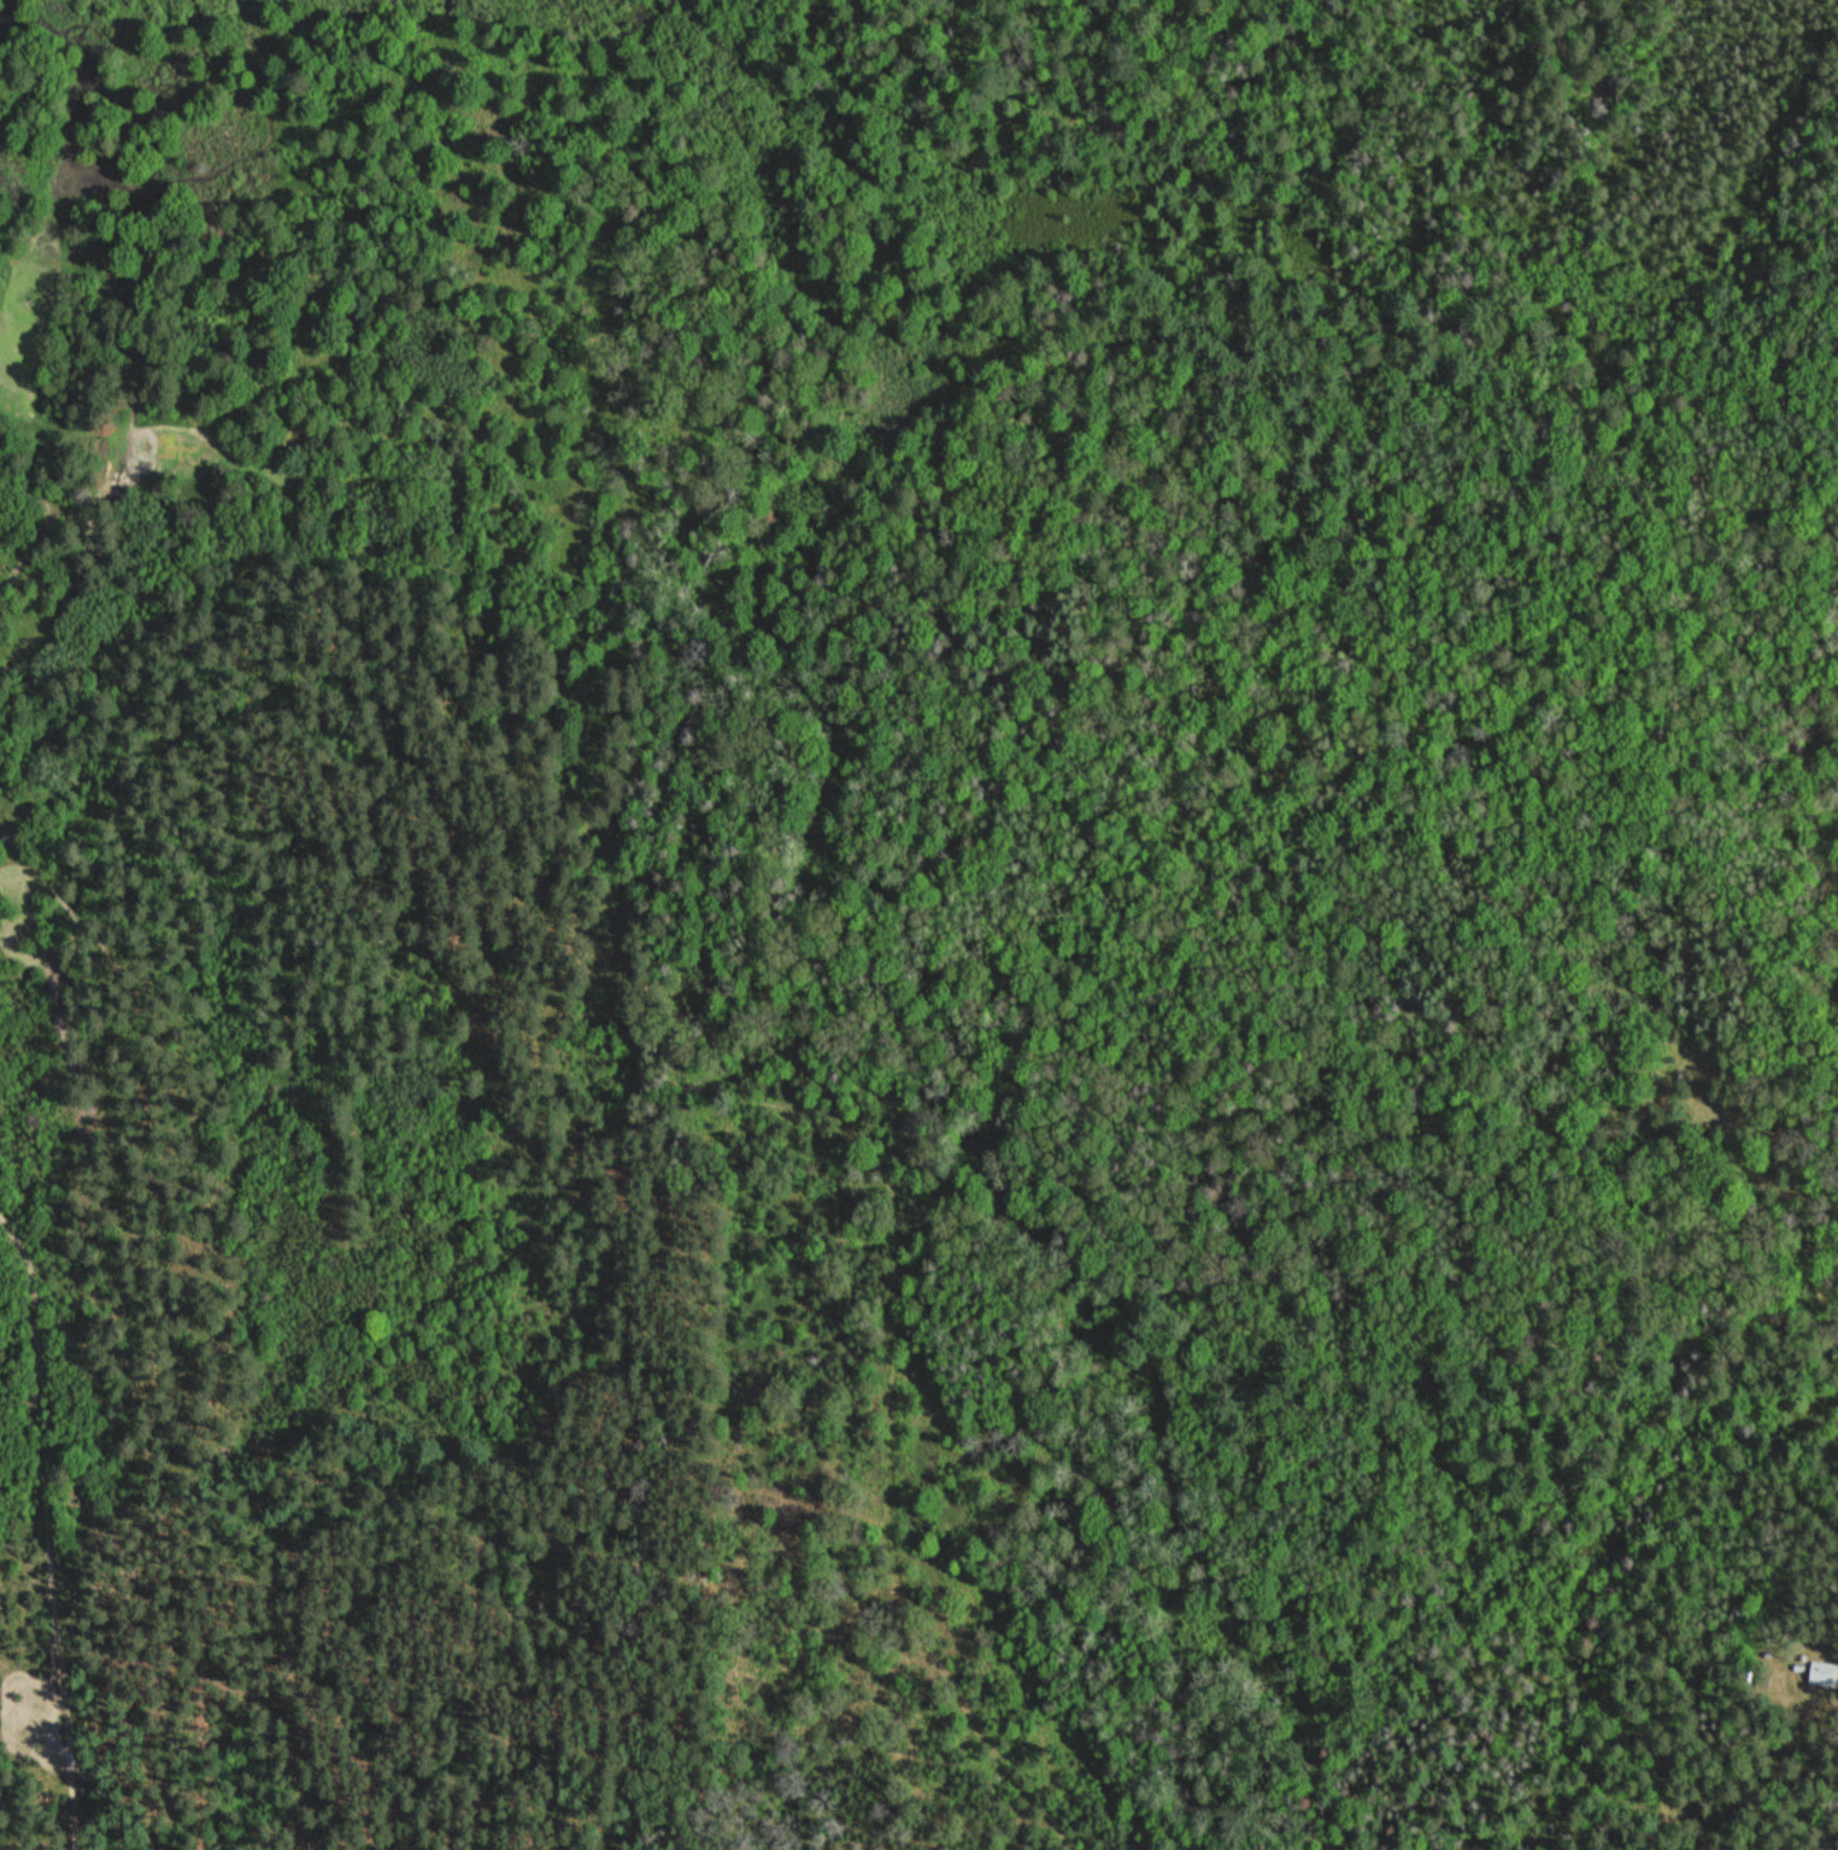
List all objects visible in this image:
building: (1824, 1674)

